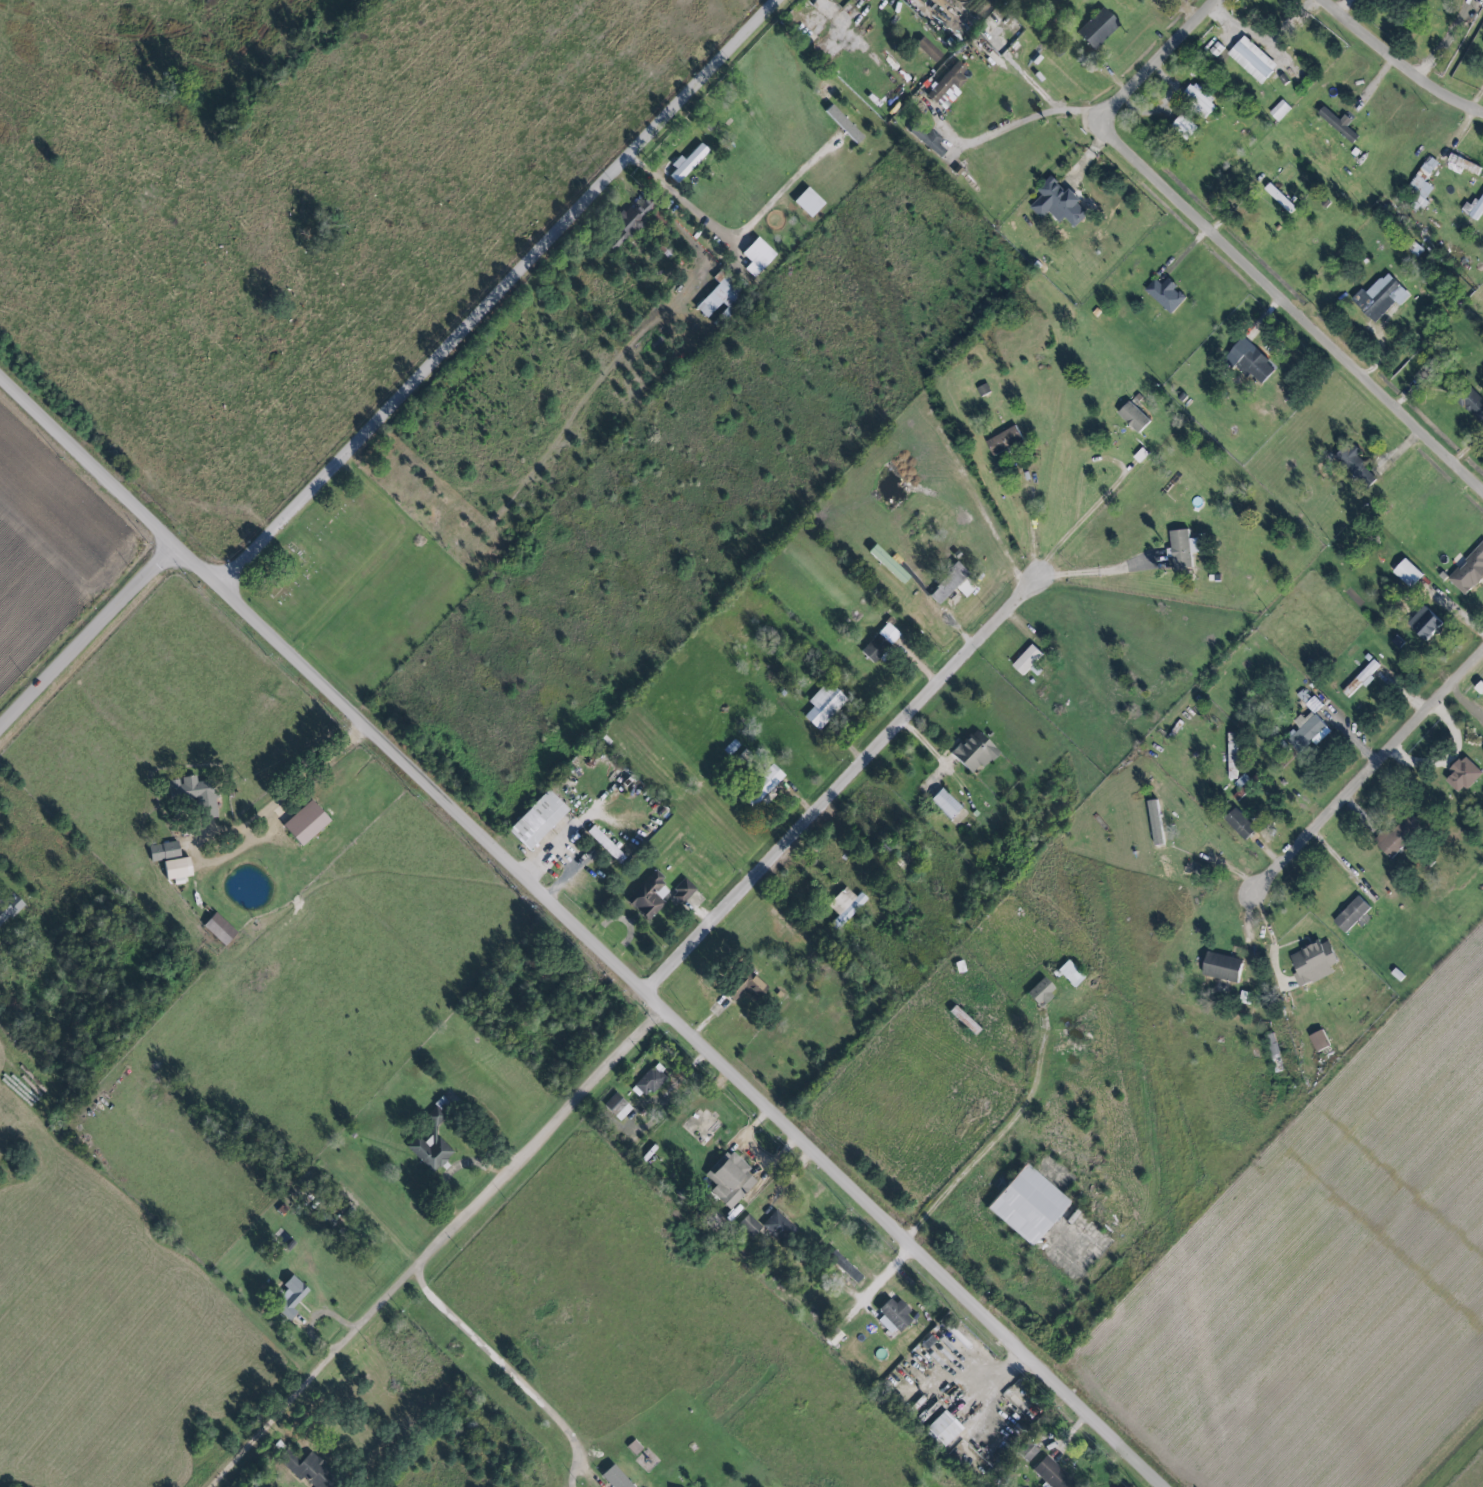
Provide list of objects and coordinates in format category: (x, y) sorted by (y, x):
building: (995, 0)
building: (825, 7)
building: (1095, 29)
road: (1448, 38)
road: (1265, 48)
building: (926, 50)
building: (1251, 59)
road: (1402, 59)
road: (1033, 83)
building: (946, 86)
building: (1198, 99)
building: (1279, 111)
building: (841, 124)
building: (1339, 124)
road: (1009, 127)
building: (1183, 127)
building: (928, 140)
building: (685, 163)
building: (1463, 164)
building: (1421, 184)
road: (677, 194)
building: (1278, 198)
building: (806, 203)
building: (1057, 204)
building: (1474, 208)
road: (1230, 252)
building: (755, 257)
building: (1164, 294)
road: (497, 296)
building: (1379, 297)
building: (1249, 362)
building: (1471, 404)
building: (1132, 416)
building: (1003, 440)
building: (1354, 464)
road: (1081, 519)
road: (1031, 524)
building: (1181, 549)
building: (884, 562)
road: (1095, 571)
building: (1469, 571)
building: (1406, 572)
park: (356, 582)
building: (945, 584)
building: (963, 588)
building: (1423, 623)
road: (86, 635)
building: (878, 642)
building: (1026, 659)
building: (1361, 678)
building: (1308, 700)
building: (821, 705)
building: (1306, 731)
building: (971, 752)
building: (1231, 756)
road: (1365, 775)
building: (1463, 775)
building: (763, 782)
road: (841, 787)
building: (192, 795)
road: (288, 796)
building: (943, 803)
building: (534, 820)
building: (1154, 822)
building: (306, 823)
building: (1238, 823)
building: (1397, 834)
road: (562, 835)
building: (605, 845)
building: (161, 851)
building: (171, 868)
building: (680, 892)
building: (646, 896)
building: (843, 906)
building: (7, 907)
building: (1350, 914)
building: (217, 929)
road: (581, 932)
building: (1311, 963)
building: (1223, 967)
building: (1068, 974)
building: (742, 986)
building: (1038, 992)
building: (1318, 1040)
building: (1271, 1044)
building: (647, 1081)
building: (615, 1107)
building: (433, 1114)
road: (995, 1140)
building: (428, 1152)
building: (729, 1180)
building: (1025, 1205)
building: (747, 1226)
building: (776, 1227)
road: (442, 1250)
building: (842, 1267)
building: (288, 1302)
building: (891, 1317)
building: (832, 1337)
building: (927, 1343)
road: (510, 1377)
road: (989, 1387)
building: (939, 1429)
building: (1026, 1454)
building: (306, 1470)
building: (1050, 1474)
building: (612, 1478)

